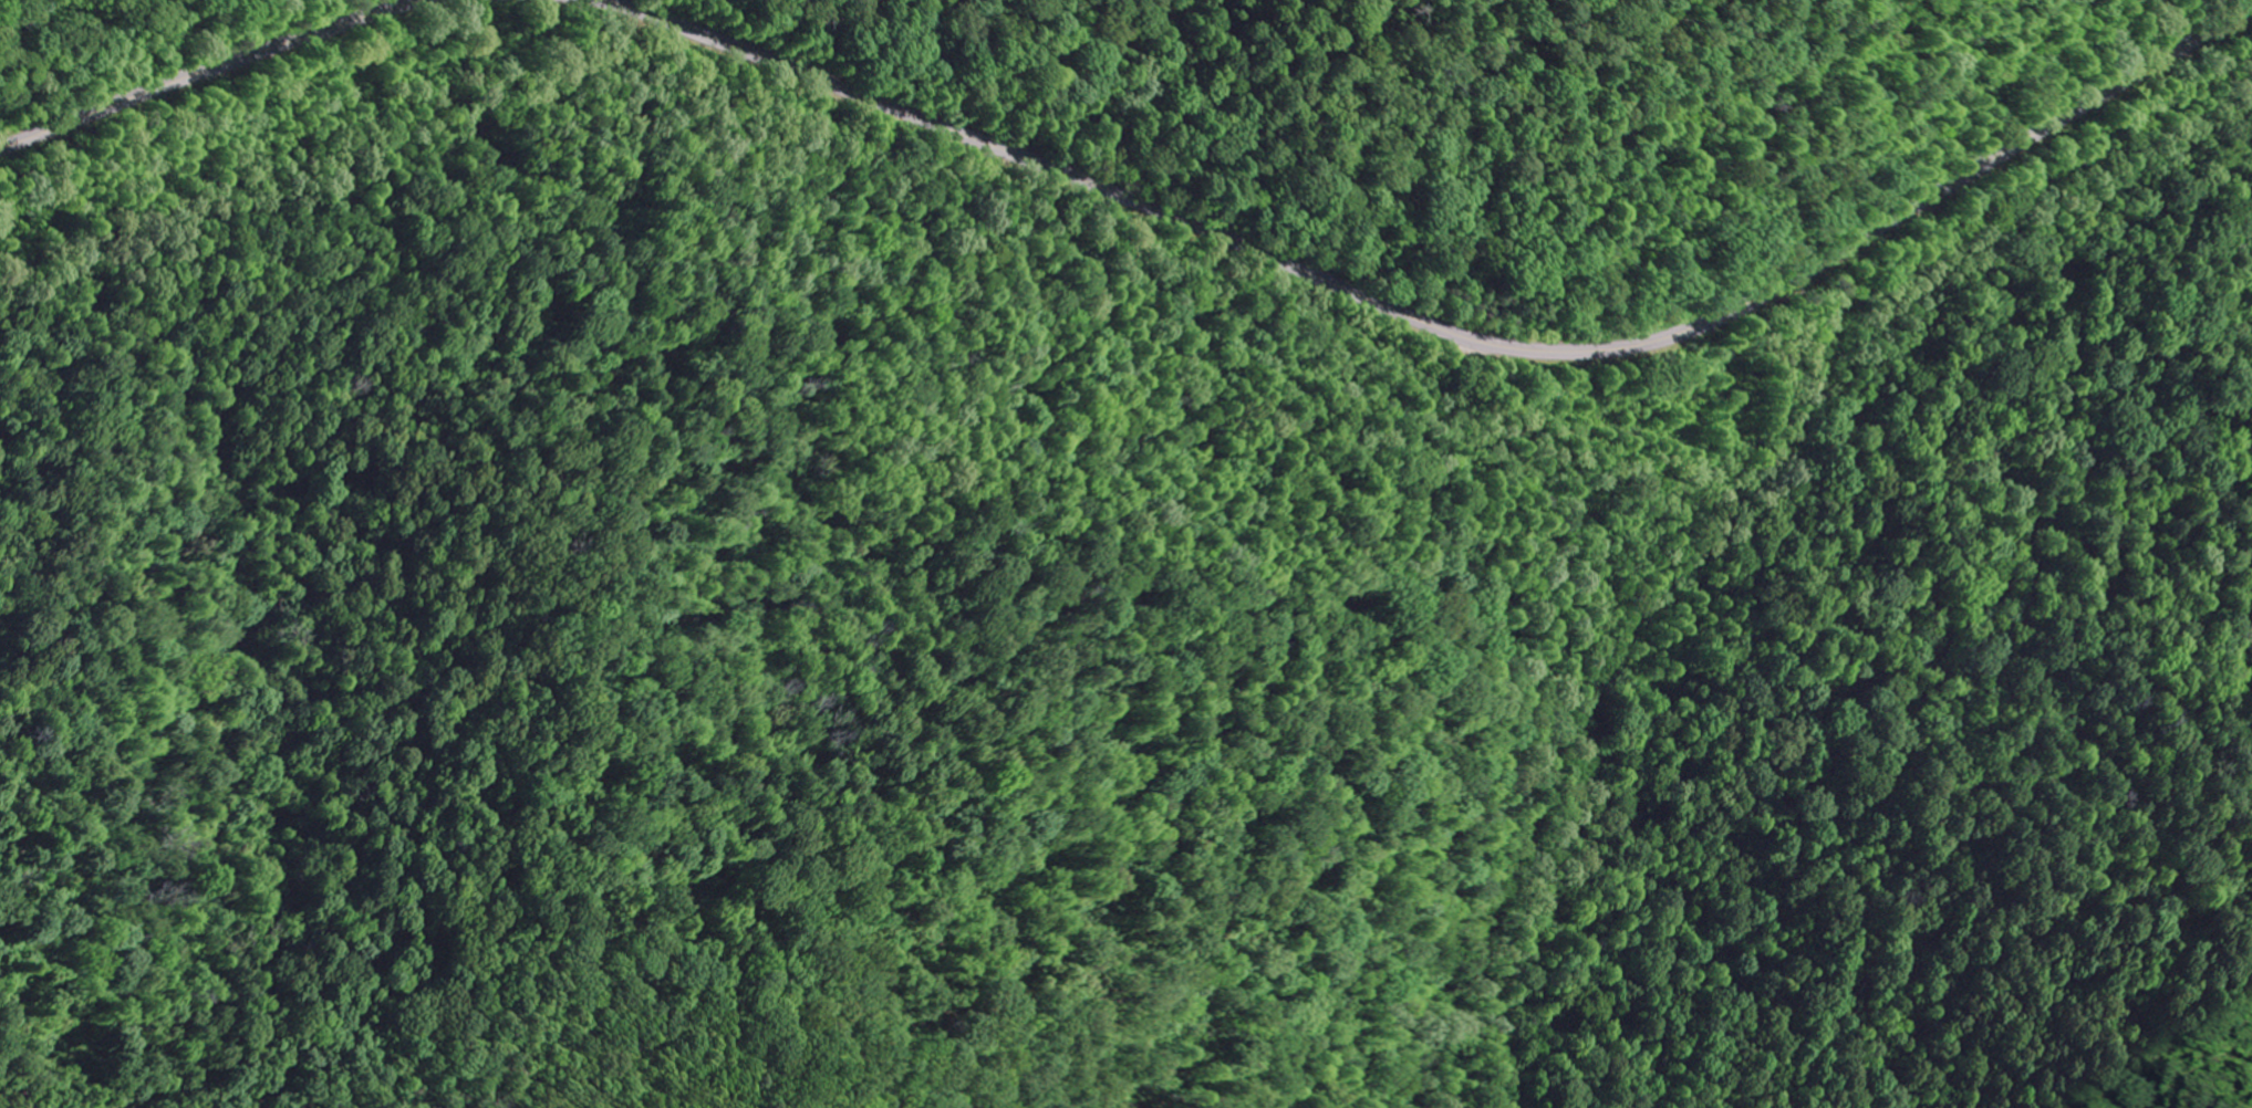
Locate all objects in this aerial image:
road: (215, 60)
road: (1447, 331)

